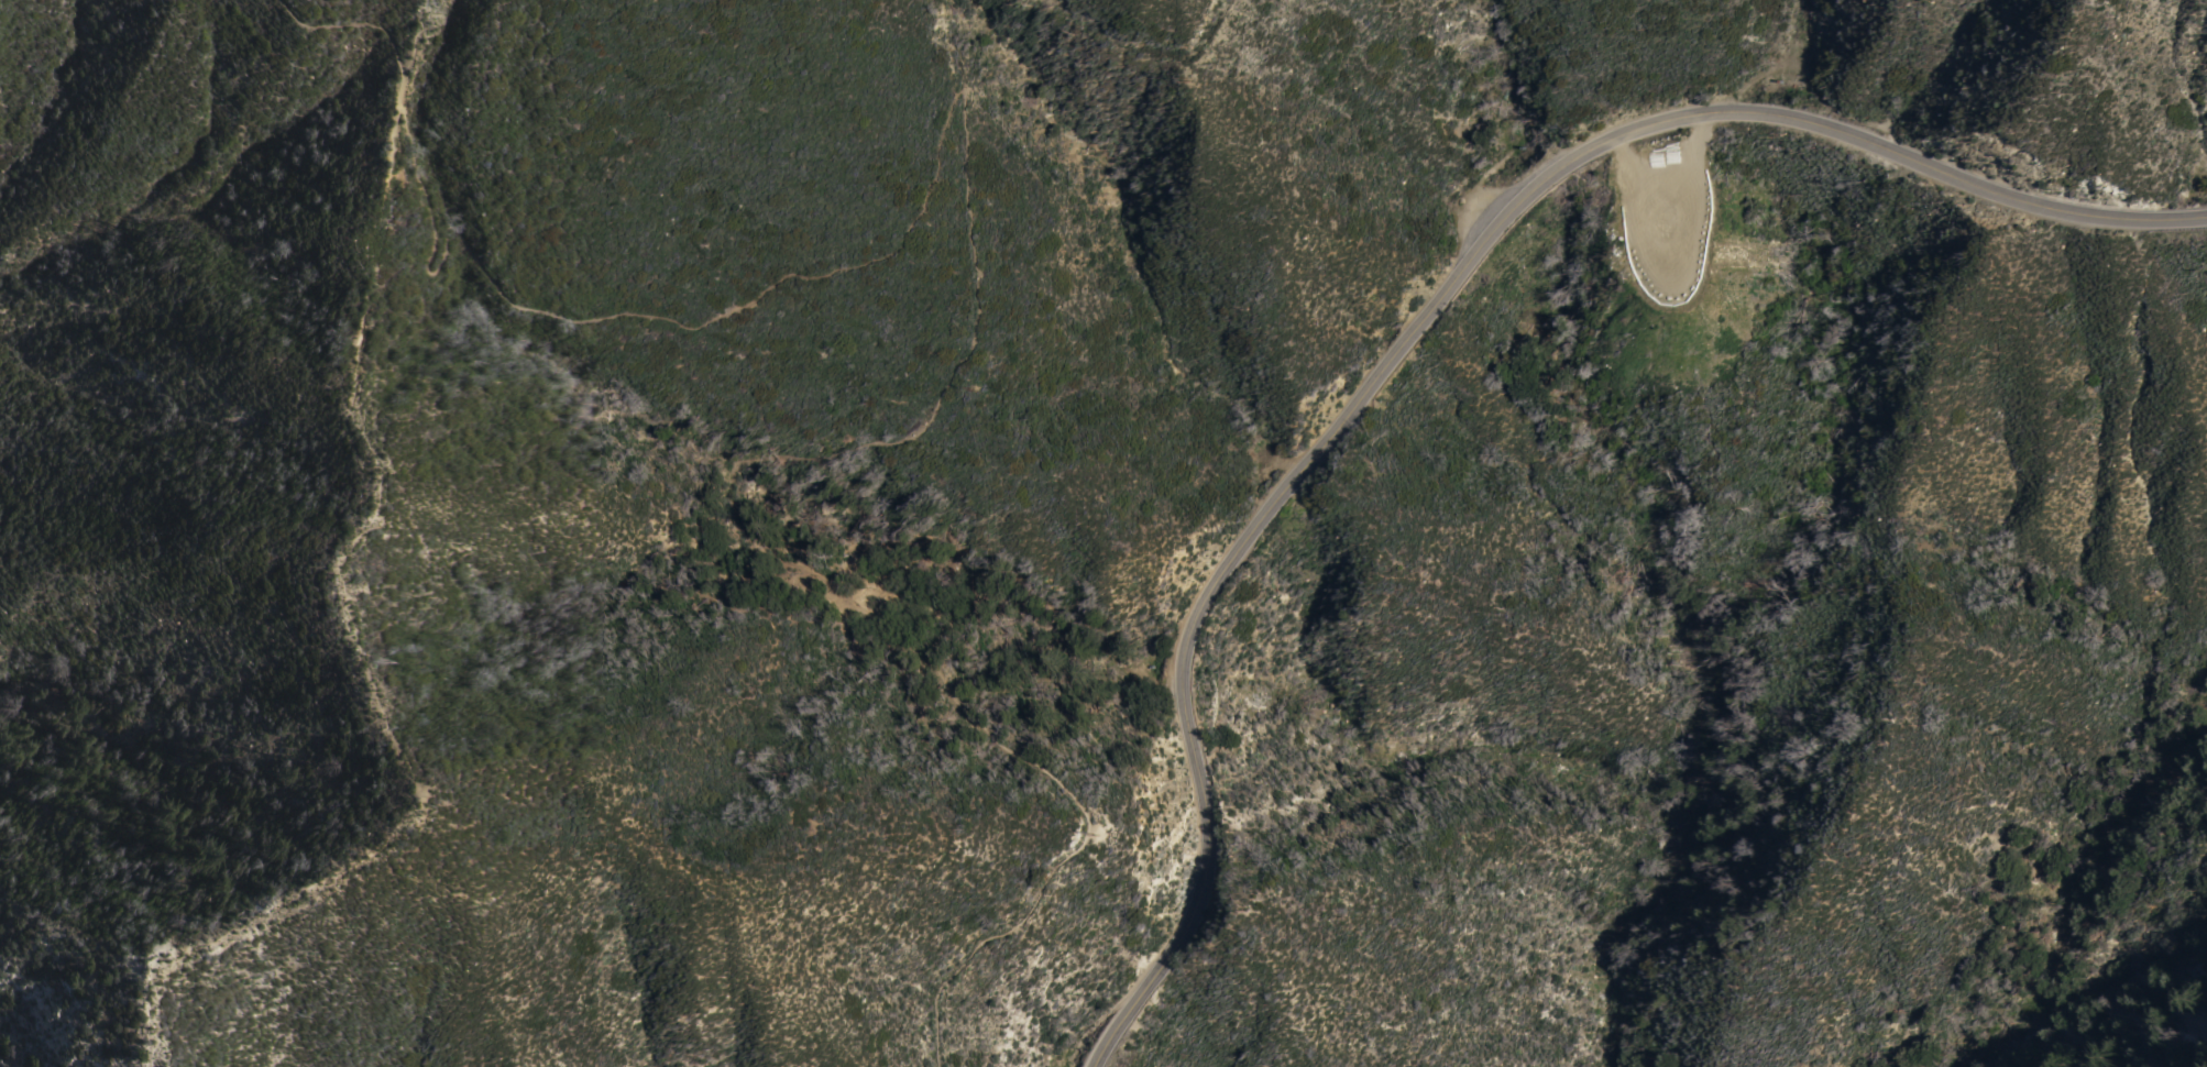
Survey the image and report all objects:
road: (960, 45)
road: (1137, 51)
road: (1431, 307)
road: (543, 308)
road: (809, 564)

